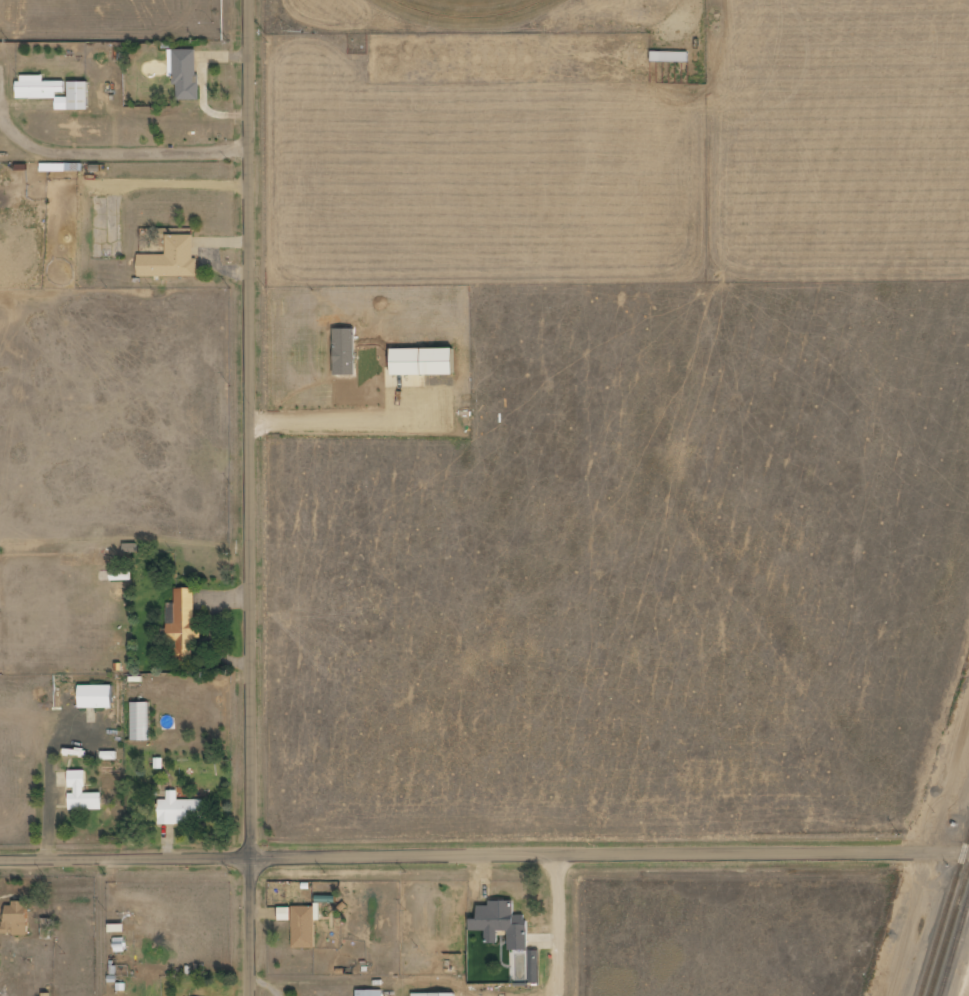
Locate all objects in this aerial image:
building: (670, 56)
building: (186, 74)
building: (39, 87)
building: (75, 97)
building: (171, 259)
building: (425, 361)
road: (250, 498)
building: (130, 548)
building: (184, 626)
building: (97, 696)
building: (140, 721)
building: (83, 793)
building: (182, 810)
road: (484, 852)
building: (17, 919)
railway: (946, 919)
building: (503, 923)
building: (301, 924)
road: (559, 924)
railway: (950, 935)
railway: (956, 952)
building: (0, 963)
building: (370, 992)
building: (435, 994)

